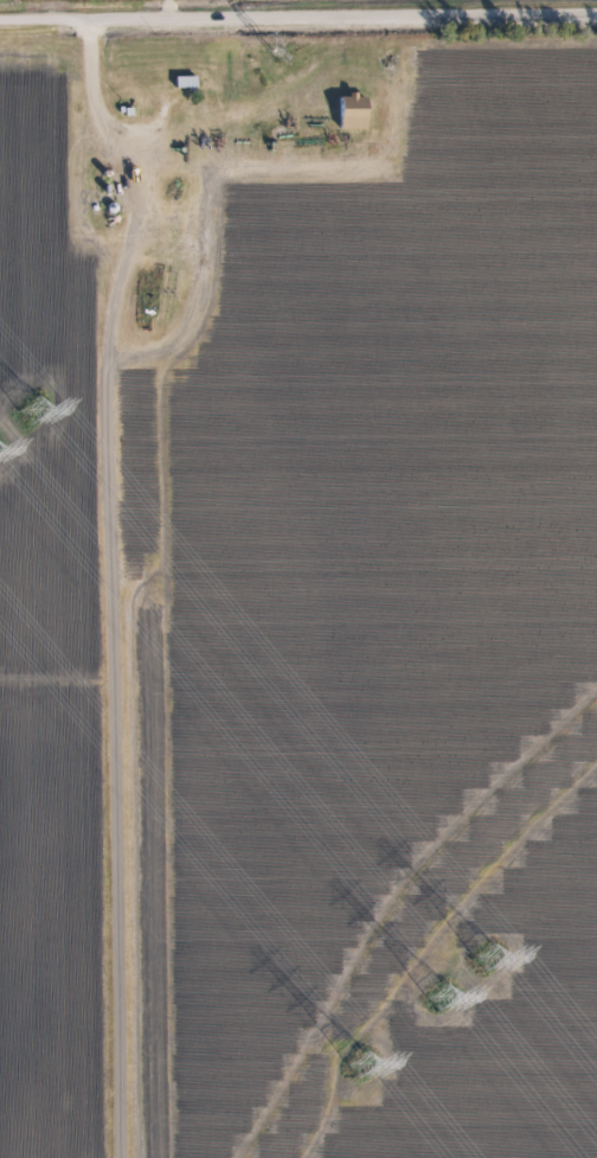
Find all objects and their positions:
road: (297, 19)
power tower: (261, 50)
building: (185, 83)
building: (351, 114)
power tower: (33, 409)
power tower: (487, 957)
power tower: (439, 999)
power tower: (361, 1066)

